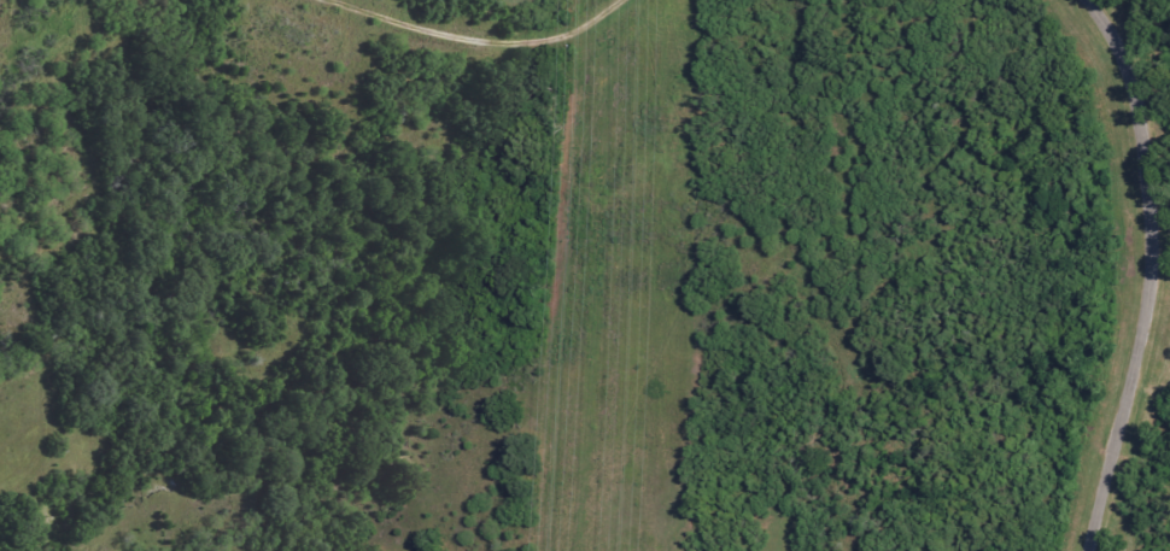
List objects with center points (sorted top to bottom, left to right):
road: (482, 39)
road: (1151, 276)

